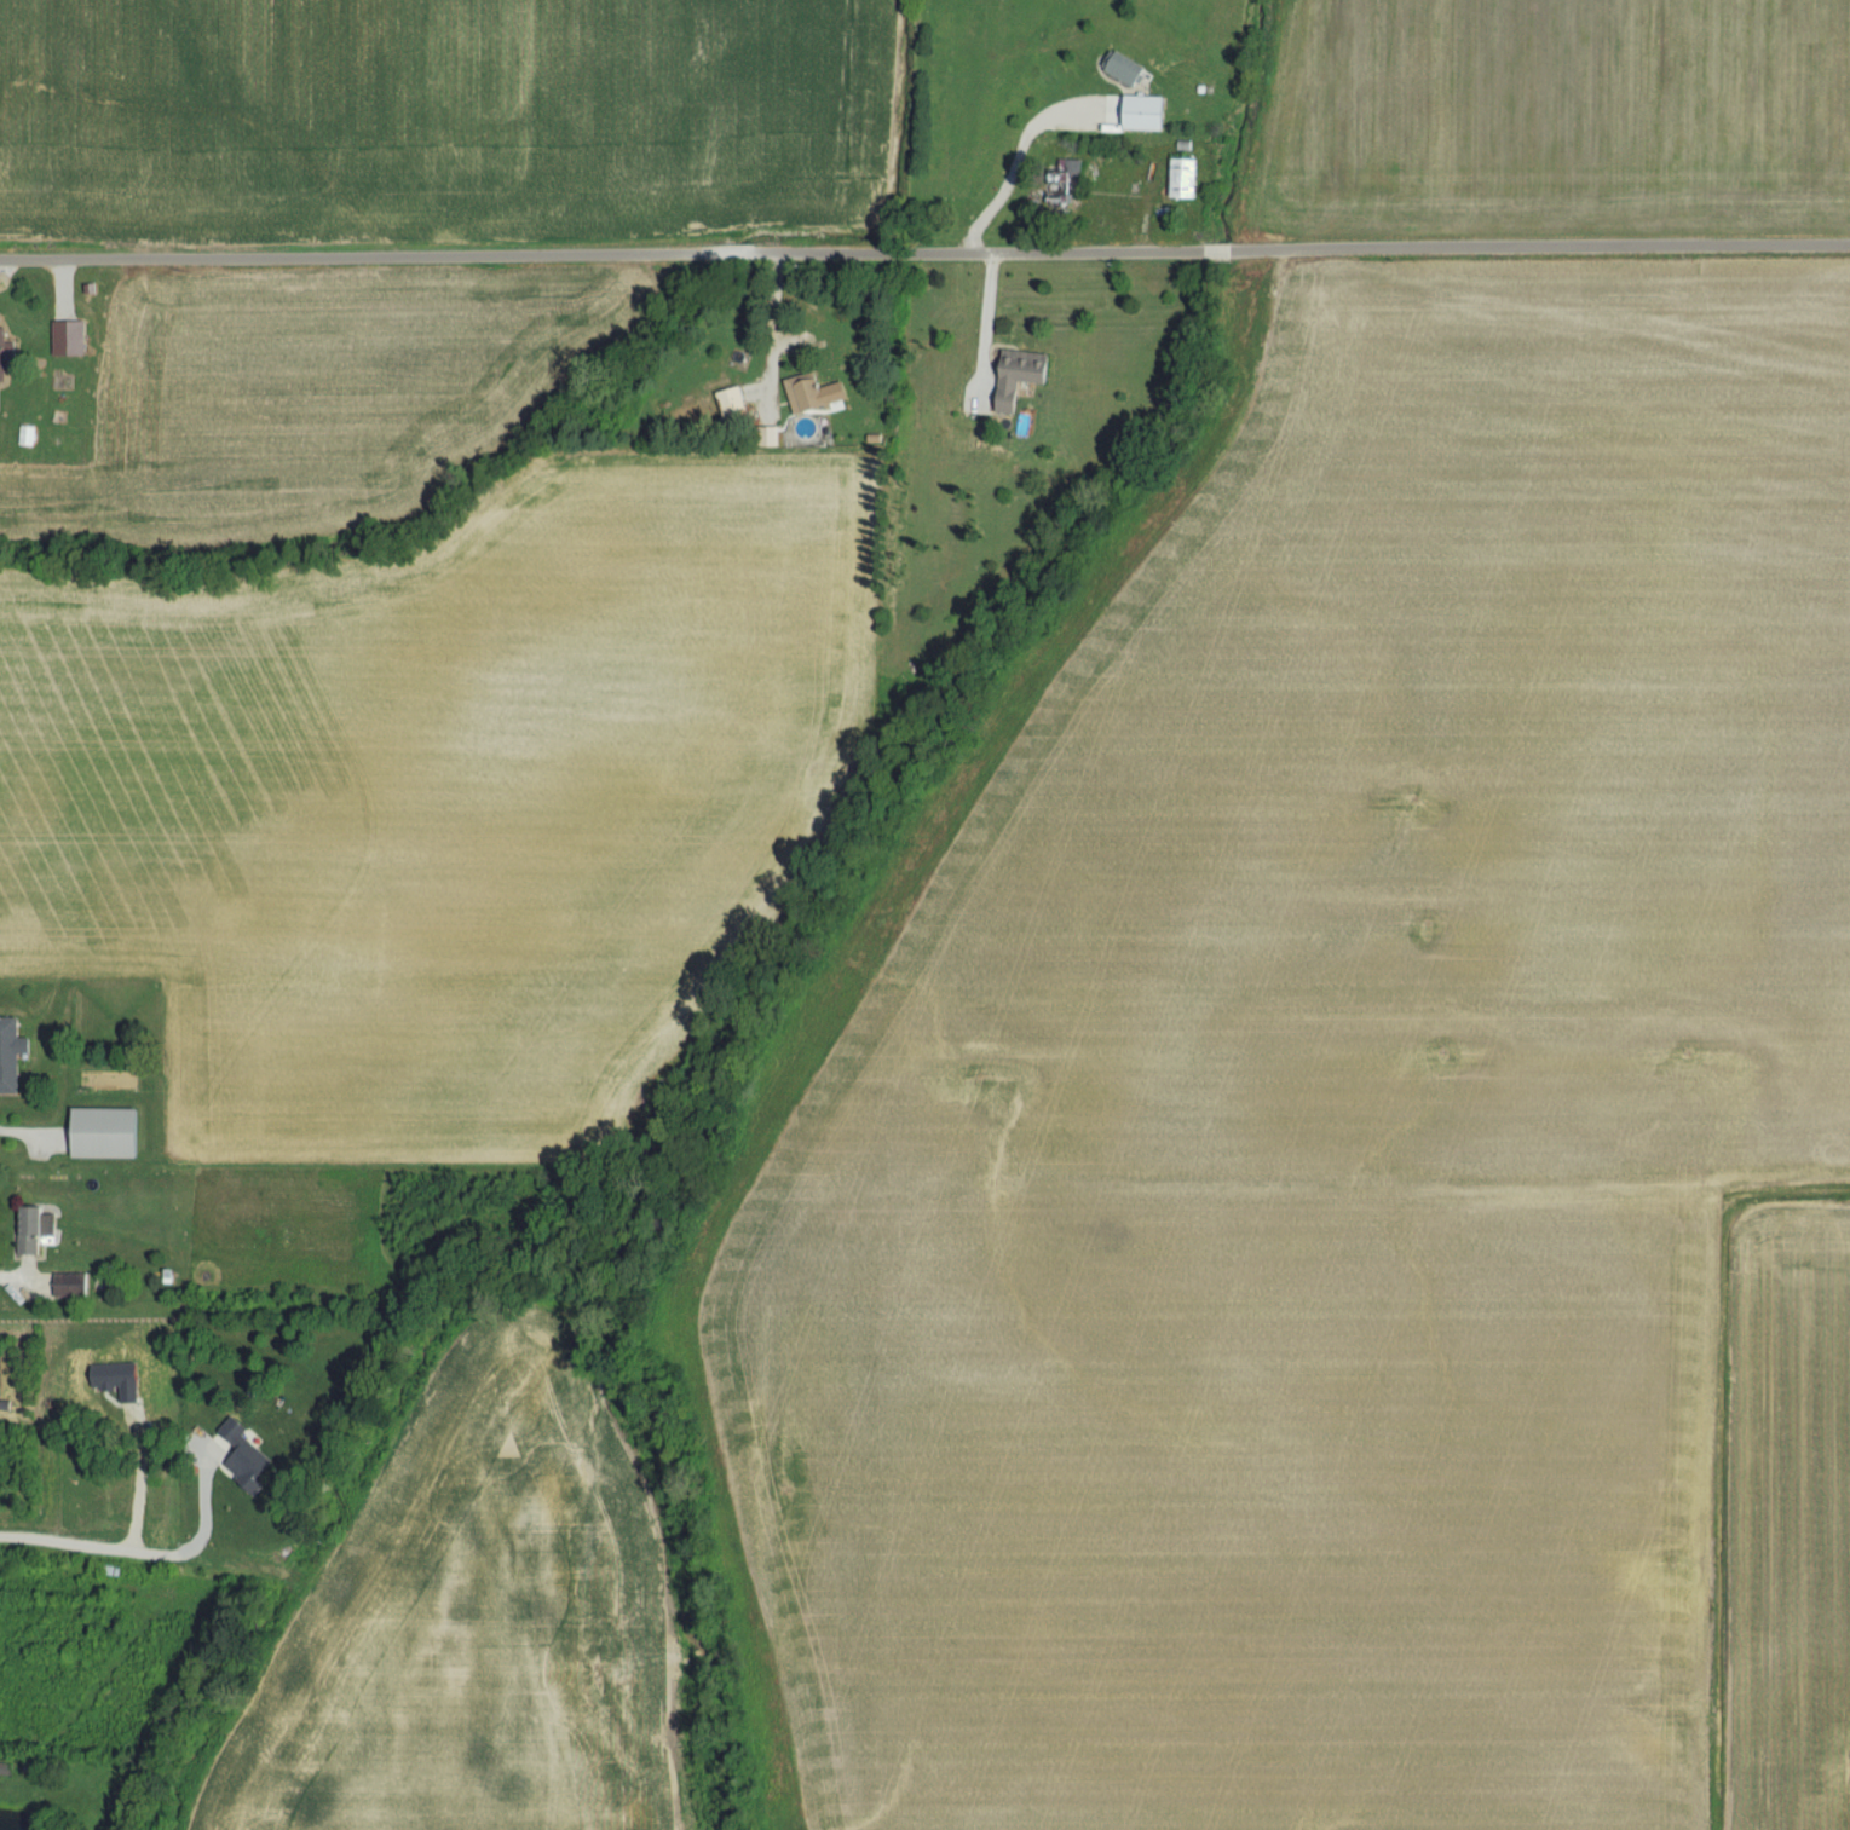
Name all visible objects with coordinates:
building: (1139, 115)
road: (1016, 163)
building: (1062, 180)
building: (1180, 180)
road: (1143, 208)
road: (924, 252)
road: (768, 328)
building: (74, 340)
building: (6, 357)
building: (1013, 379)
building: (801, 394)
building: (730, 406)
building: (766, 439)
building: (13, 1057)
road: (27, 1133)
building: (111, 1136)
road: (24, 1274)
road: (1714, 1454)
road: (140, 1484)
road: (146, 1557)

